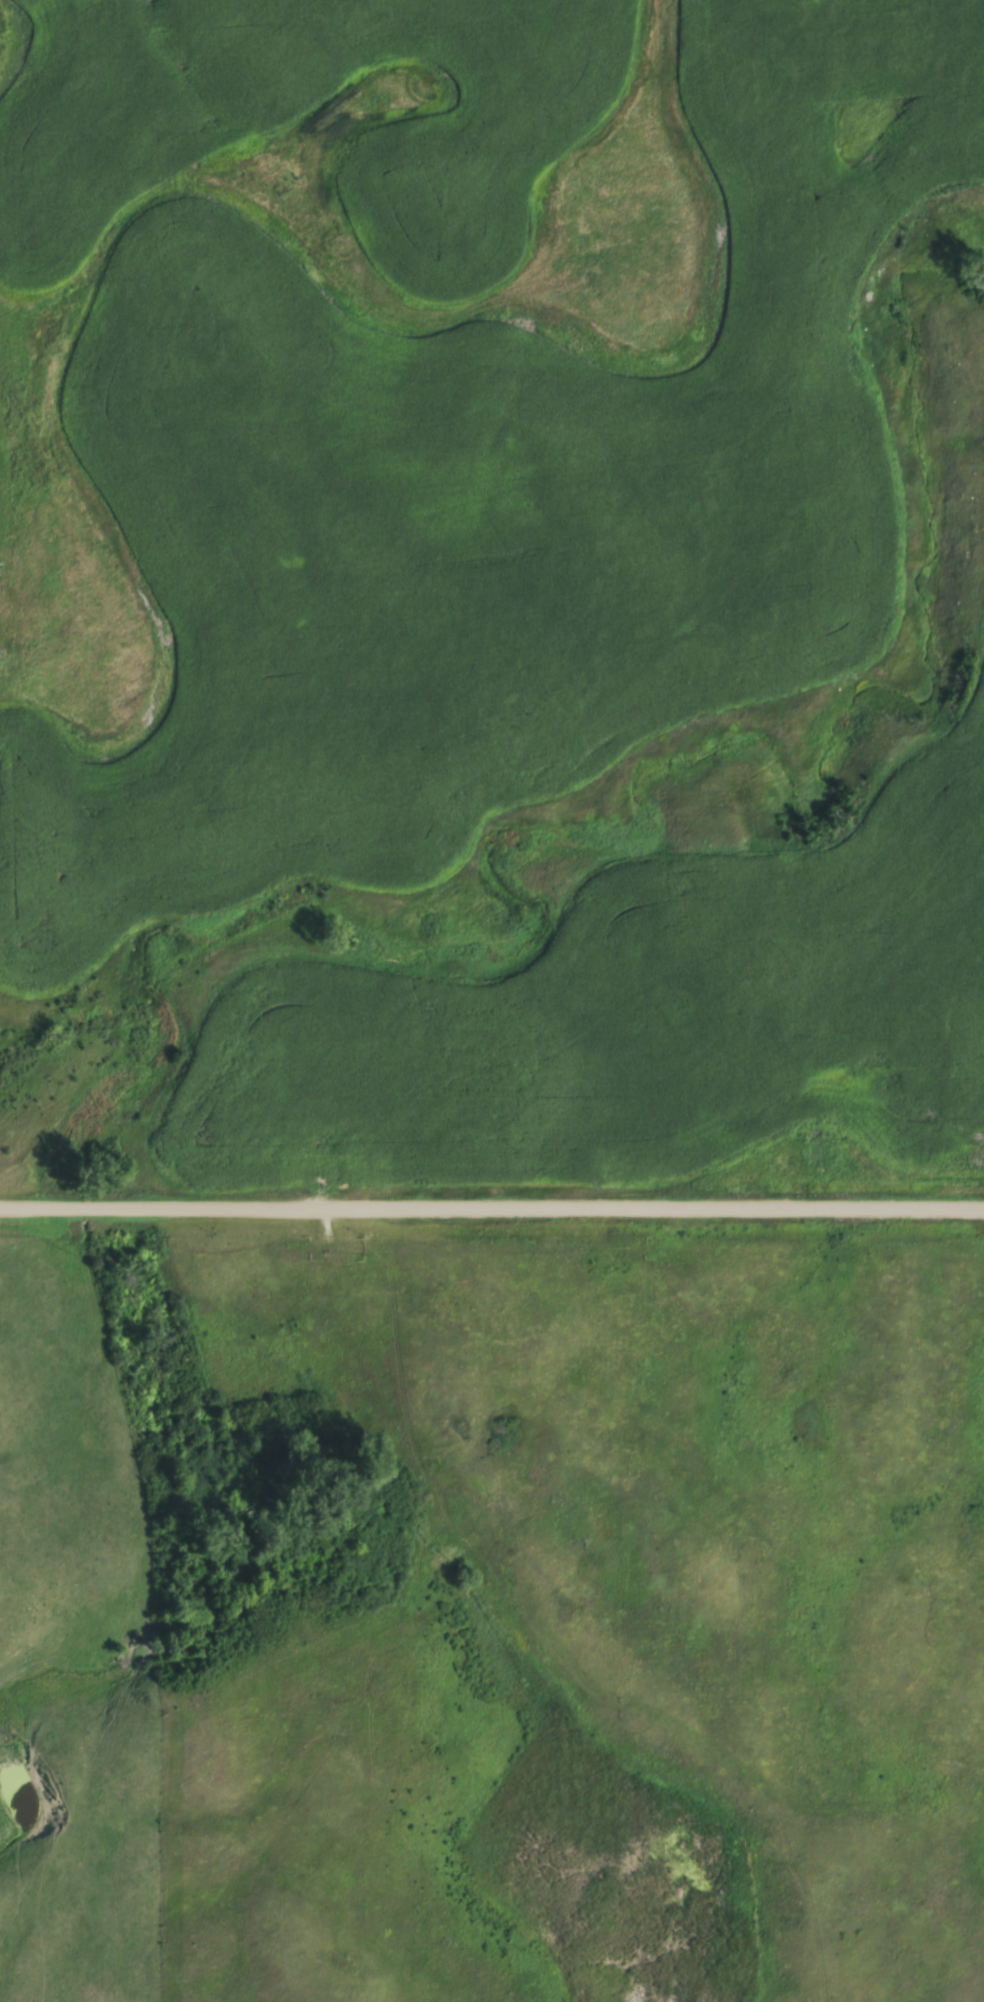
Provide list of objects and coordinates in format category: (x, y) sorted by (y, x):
road: (491, 1206)

